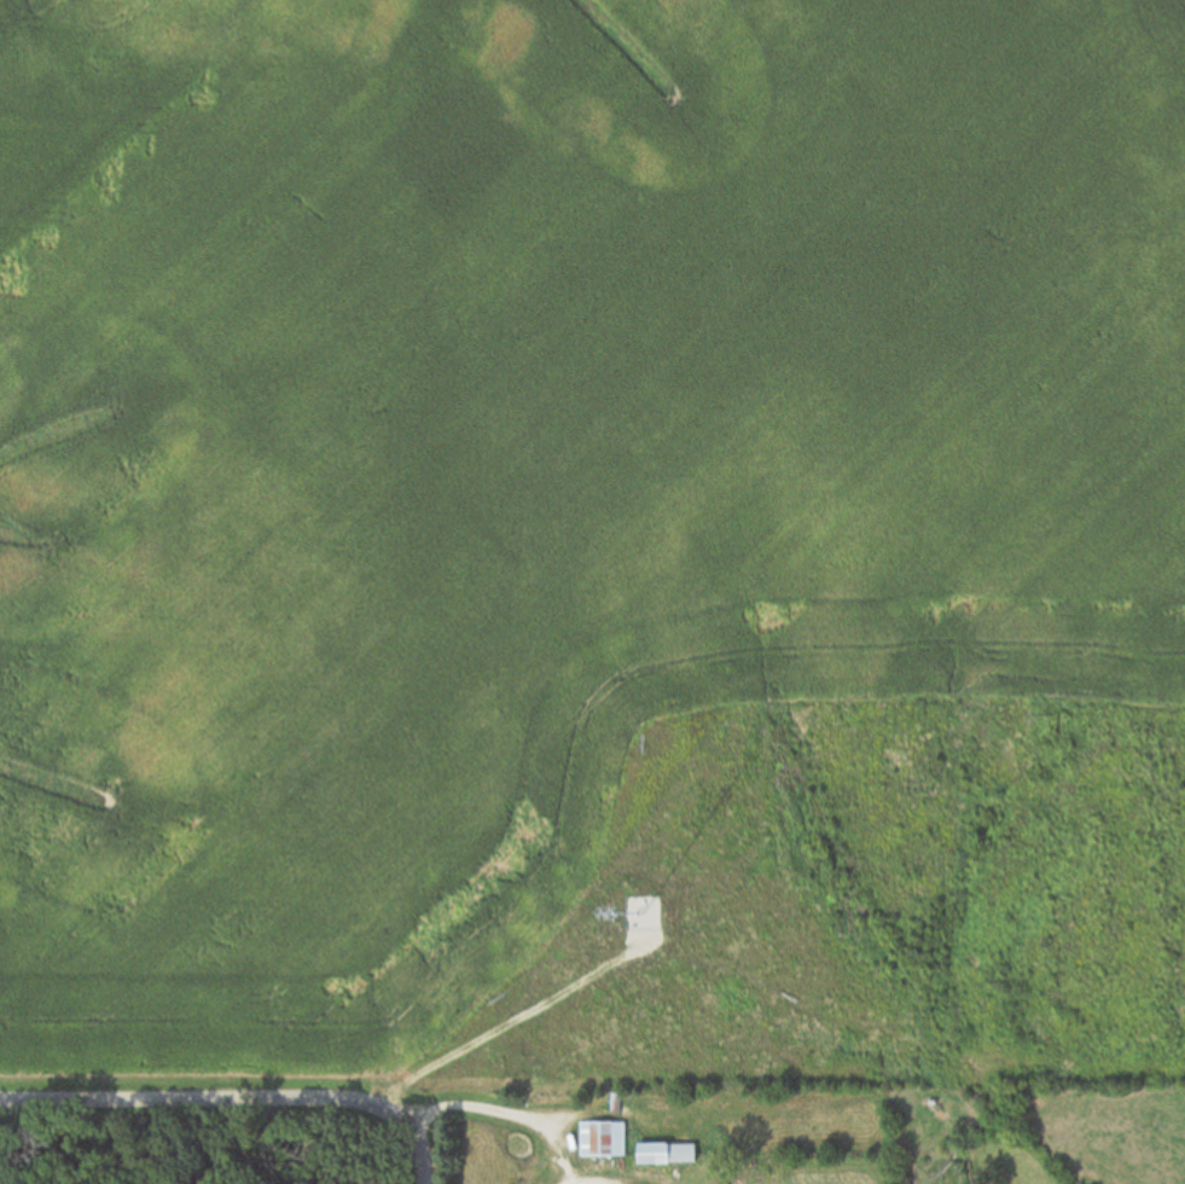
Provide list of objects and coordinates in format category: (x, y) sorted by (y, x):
road: (238, 1103)
road: (496, 1118)
building: (604, 1139)
building: (656, 1154)

